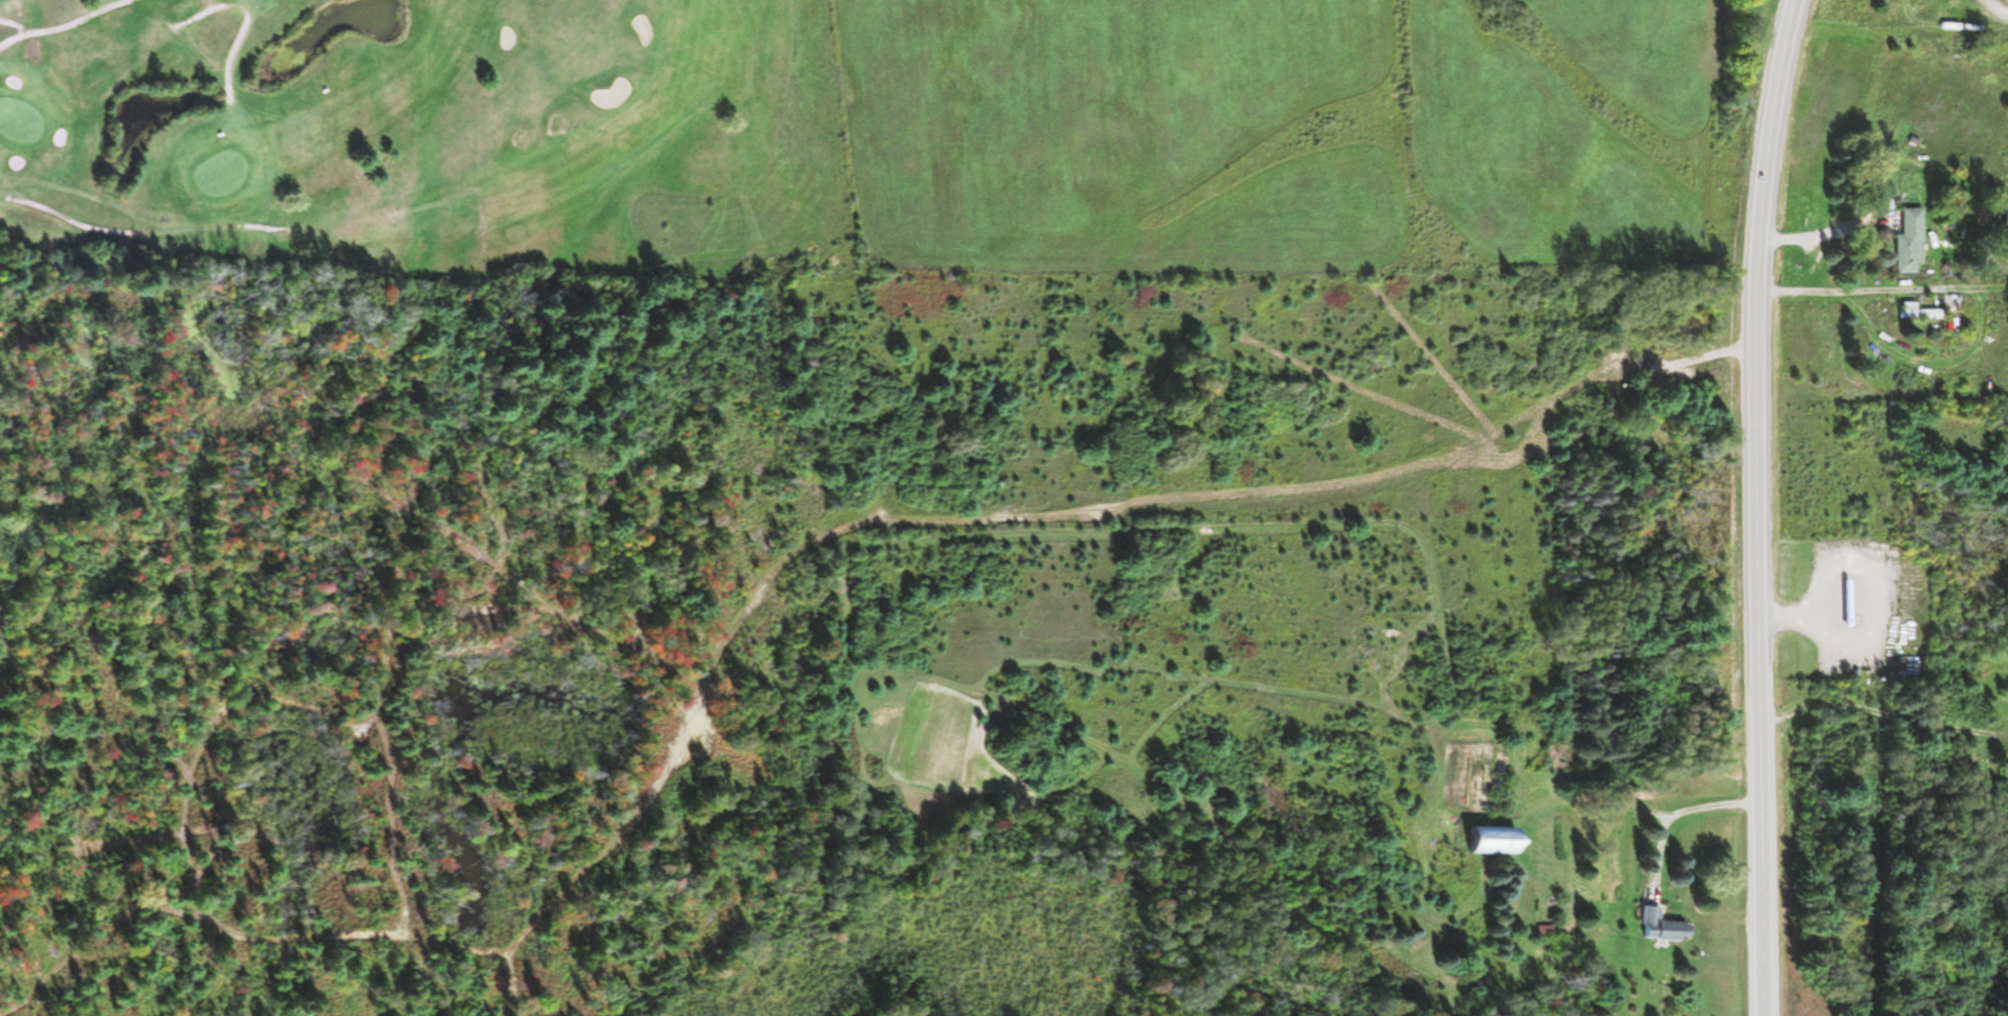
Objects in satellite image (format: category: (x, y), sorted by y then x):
building: (2007, 1)
park: (405, 149)
building: (2006, 218)
building: (1911, 242)
building: (1921, 313)
road: (1756, 506)
building: (1664, 926)

